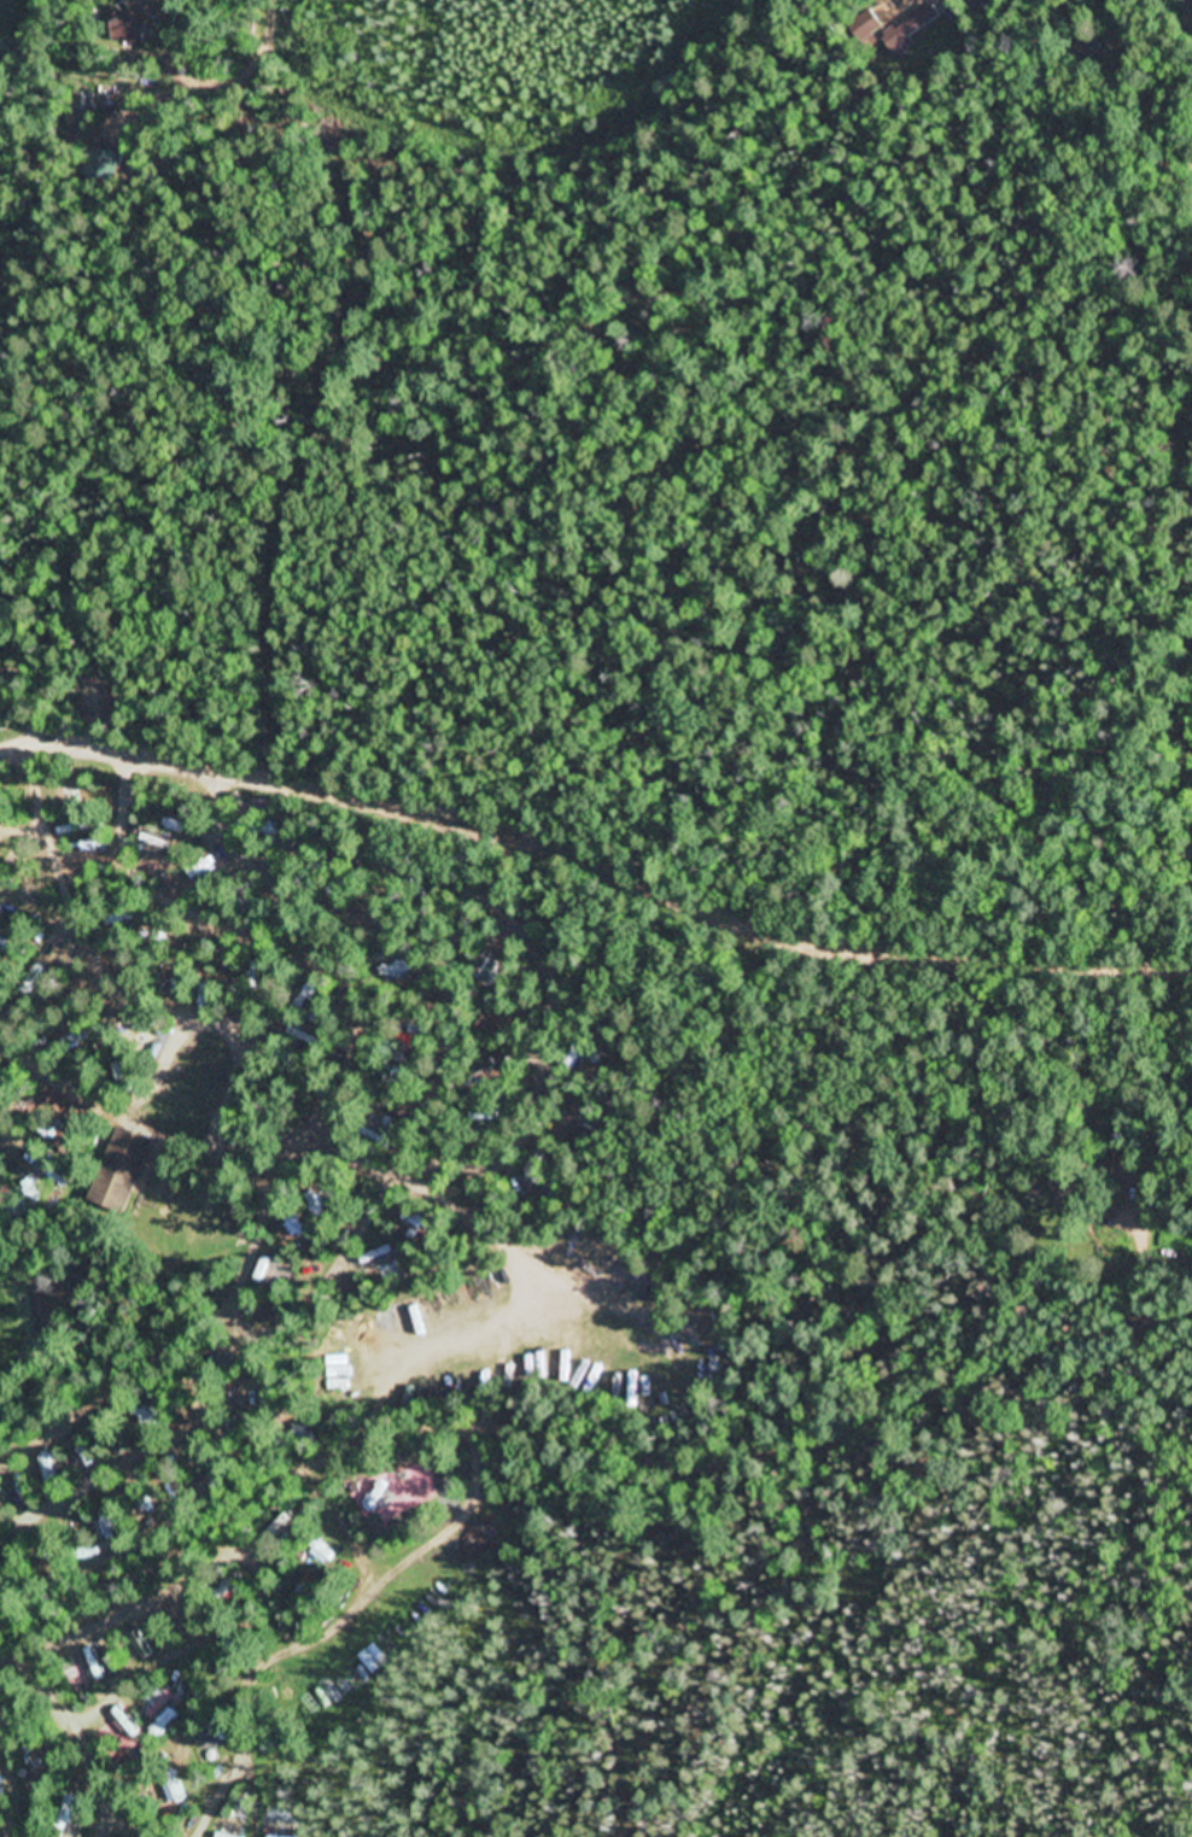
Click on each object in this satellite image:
building: (910, 29)
building: (129, 31)
road: (595, 856)
building: (123, 1170)
building: (376, 1259)
building: (338, 1374)
road: (583, 1438)
building: (136, 1639)
building: (95, 1667)
road: (86, 1728)

